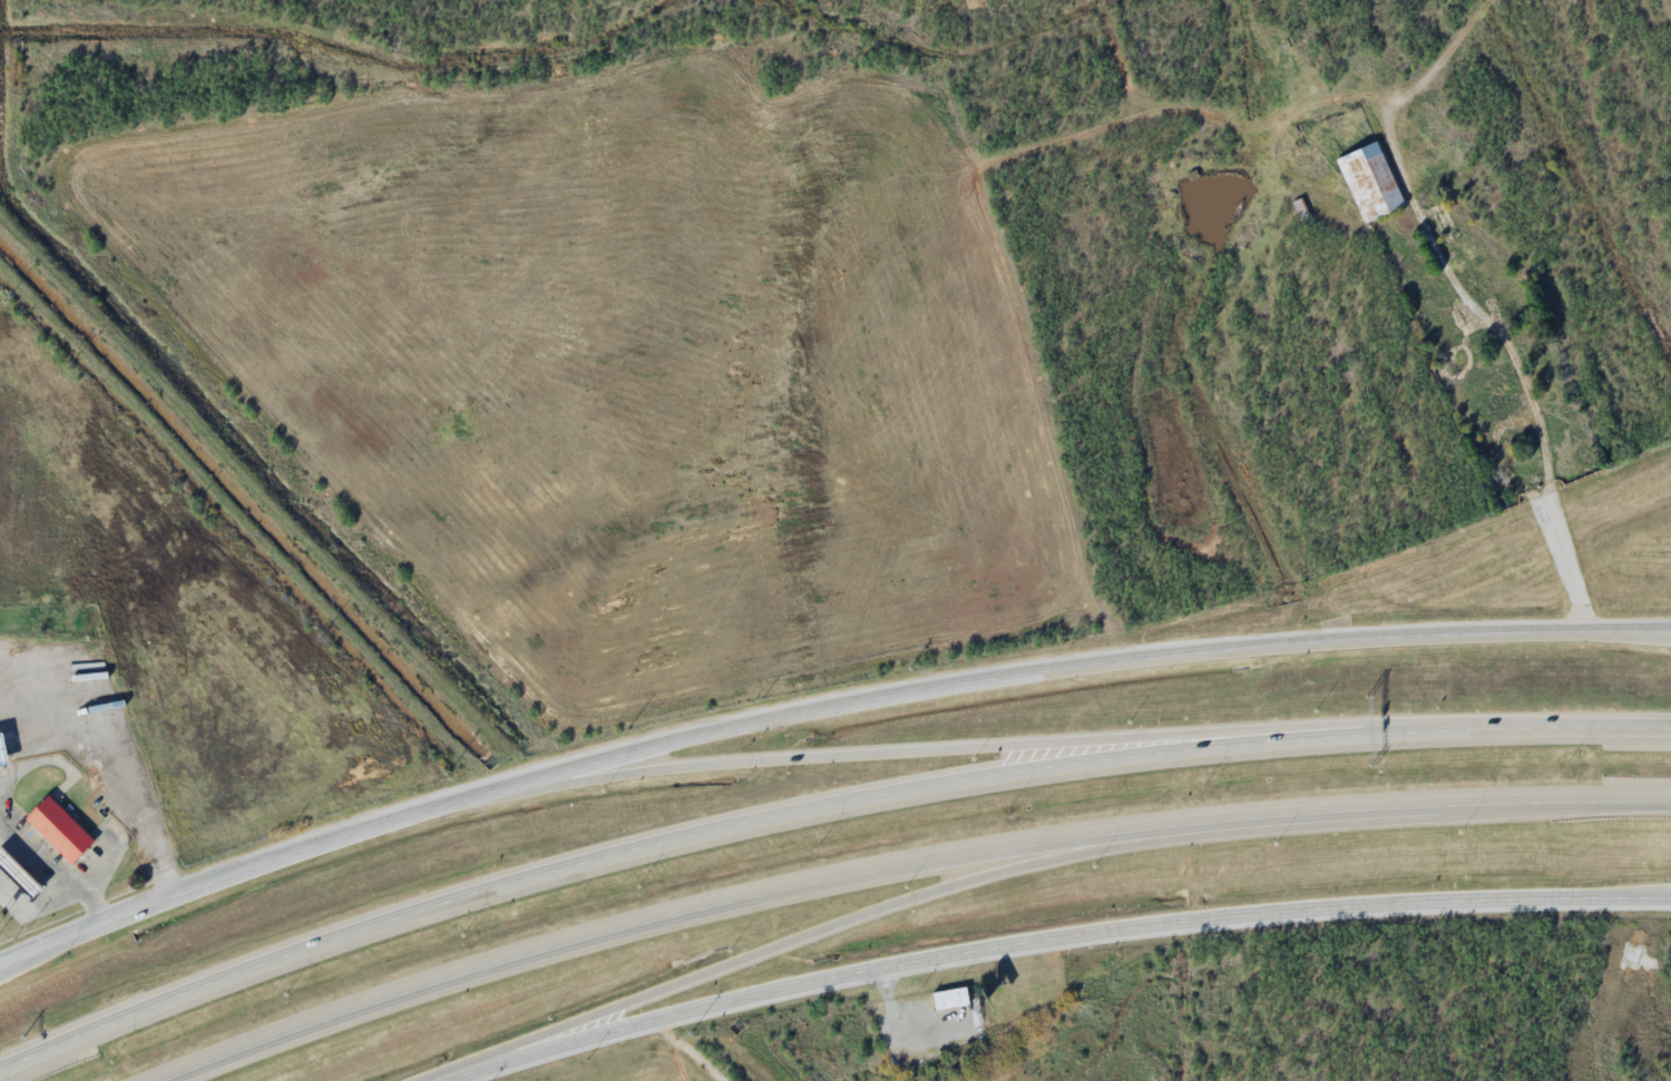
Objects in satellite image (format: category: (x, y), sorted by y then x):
building: (1369, 181)
road: (817, 710)
road: (915, 751)
road: (817, 808)
building: (62, 818)
building: (21, 862)
gas station: (21, 862)
road: (905, 866)
road: (1665, 896)
road: (802, 936)
road: (1052, 944)
road: (7, 962)
road: (7, 966)
building: (956, 990)

